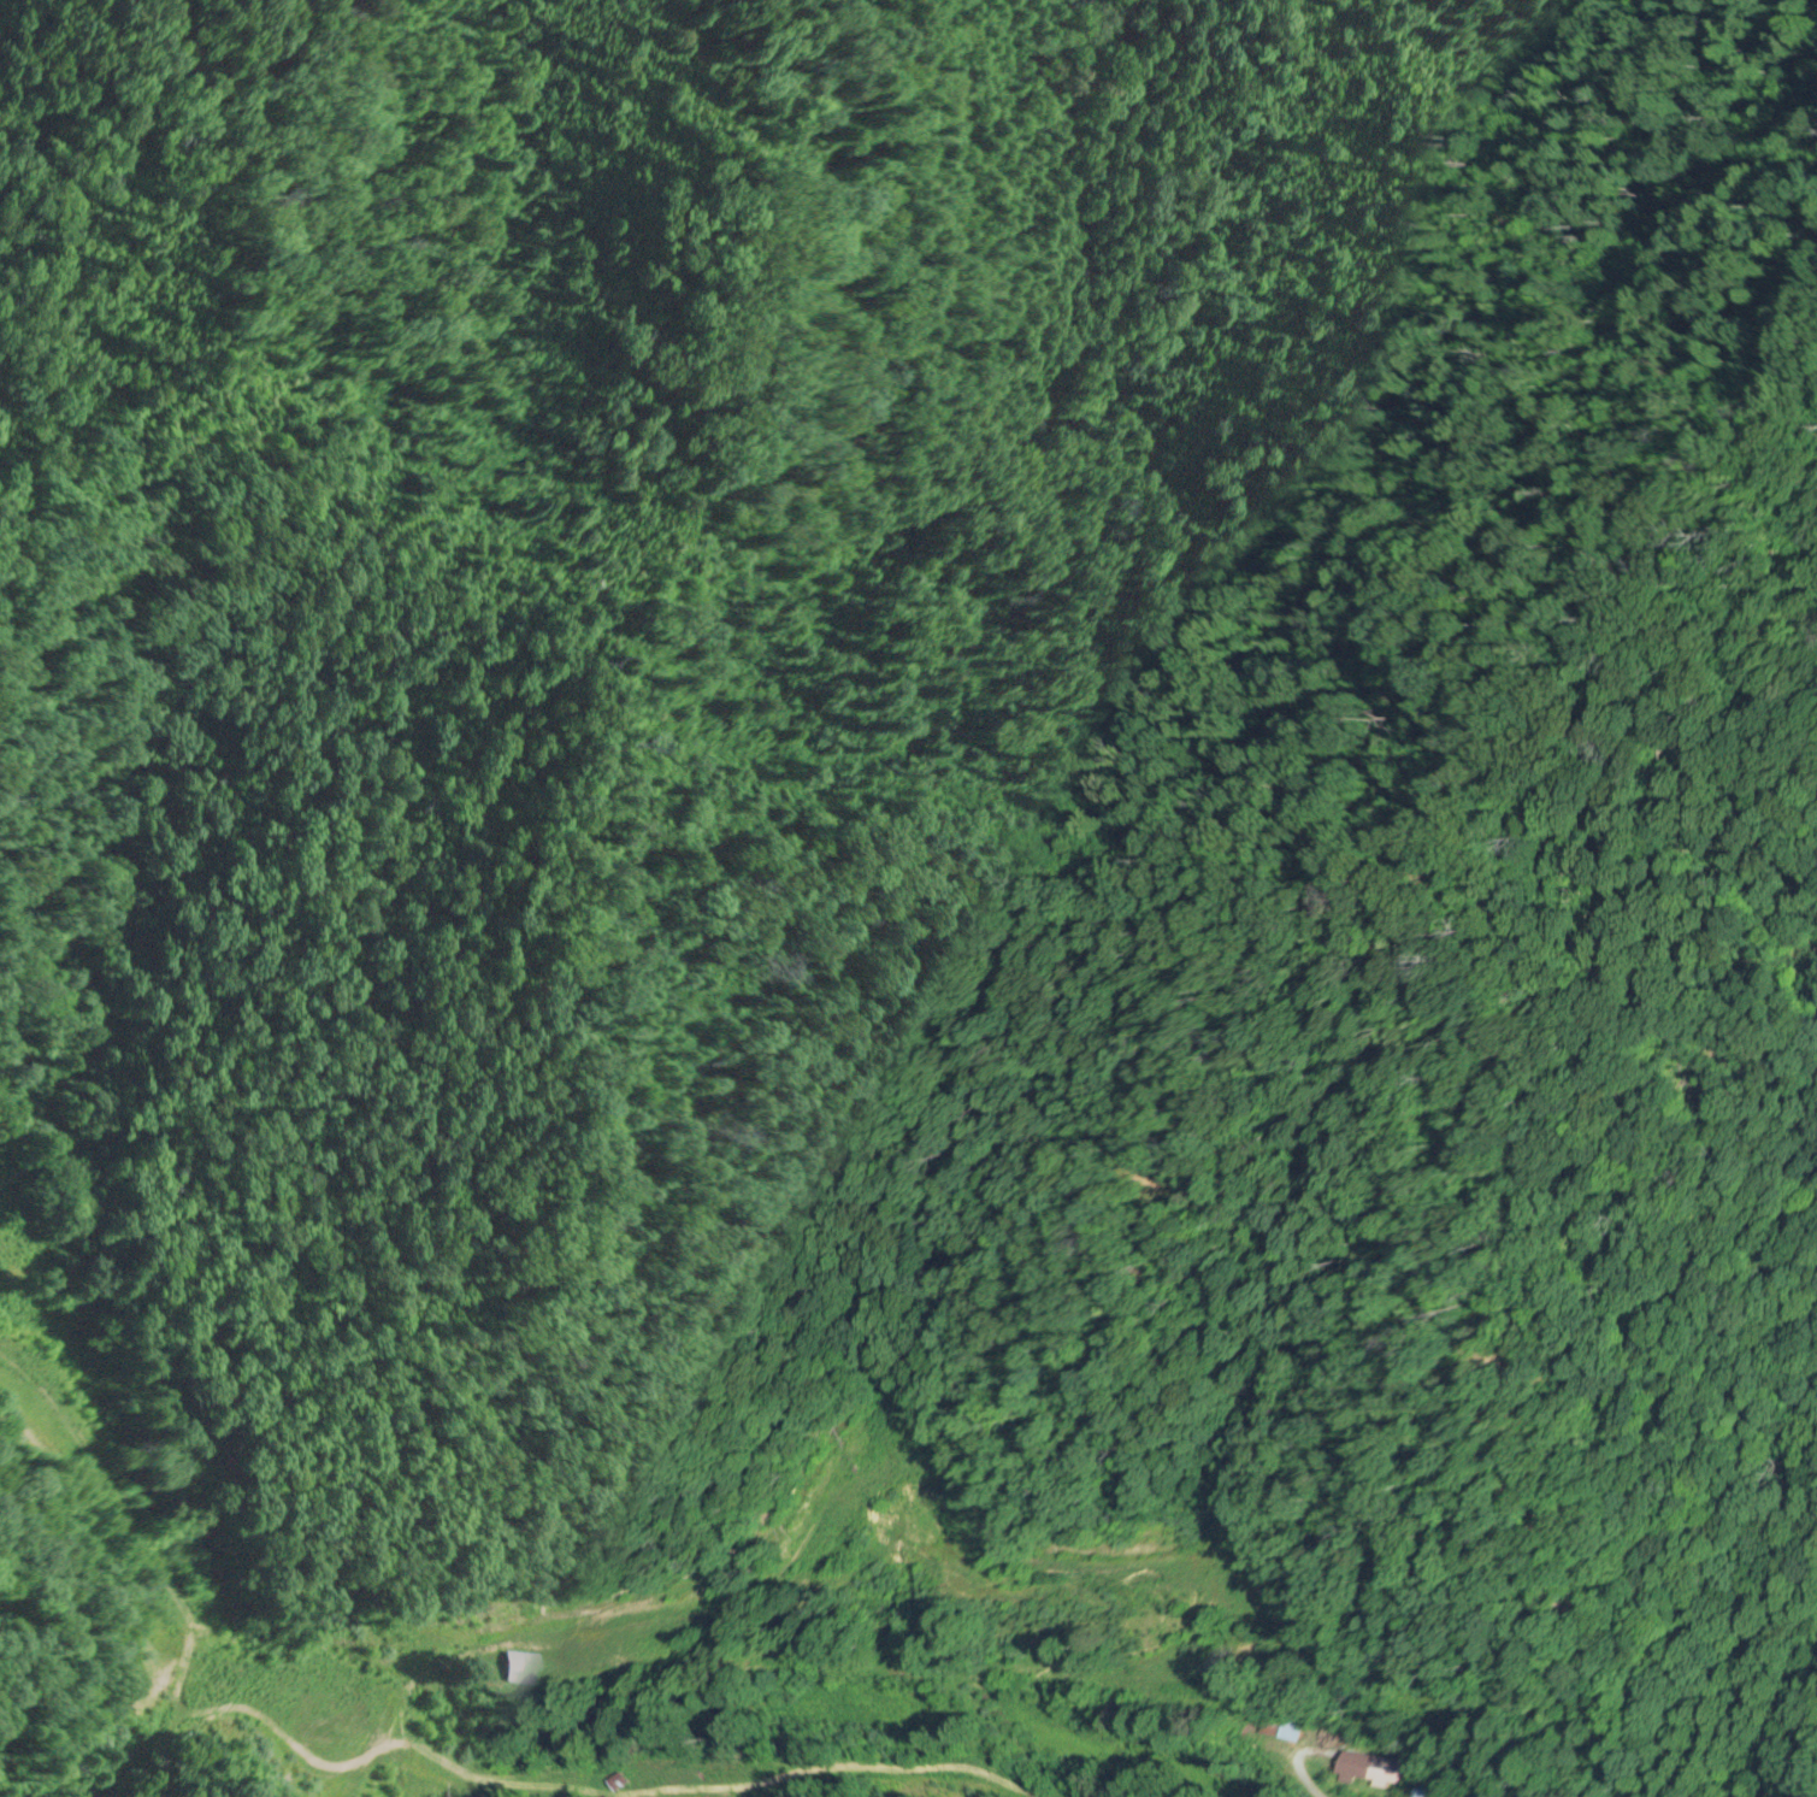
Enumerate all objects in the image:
building: (509, 1672)
building: (1290, 1728)
building: (1376, 1771)

